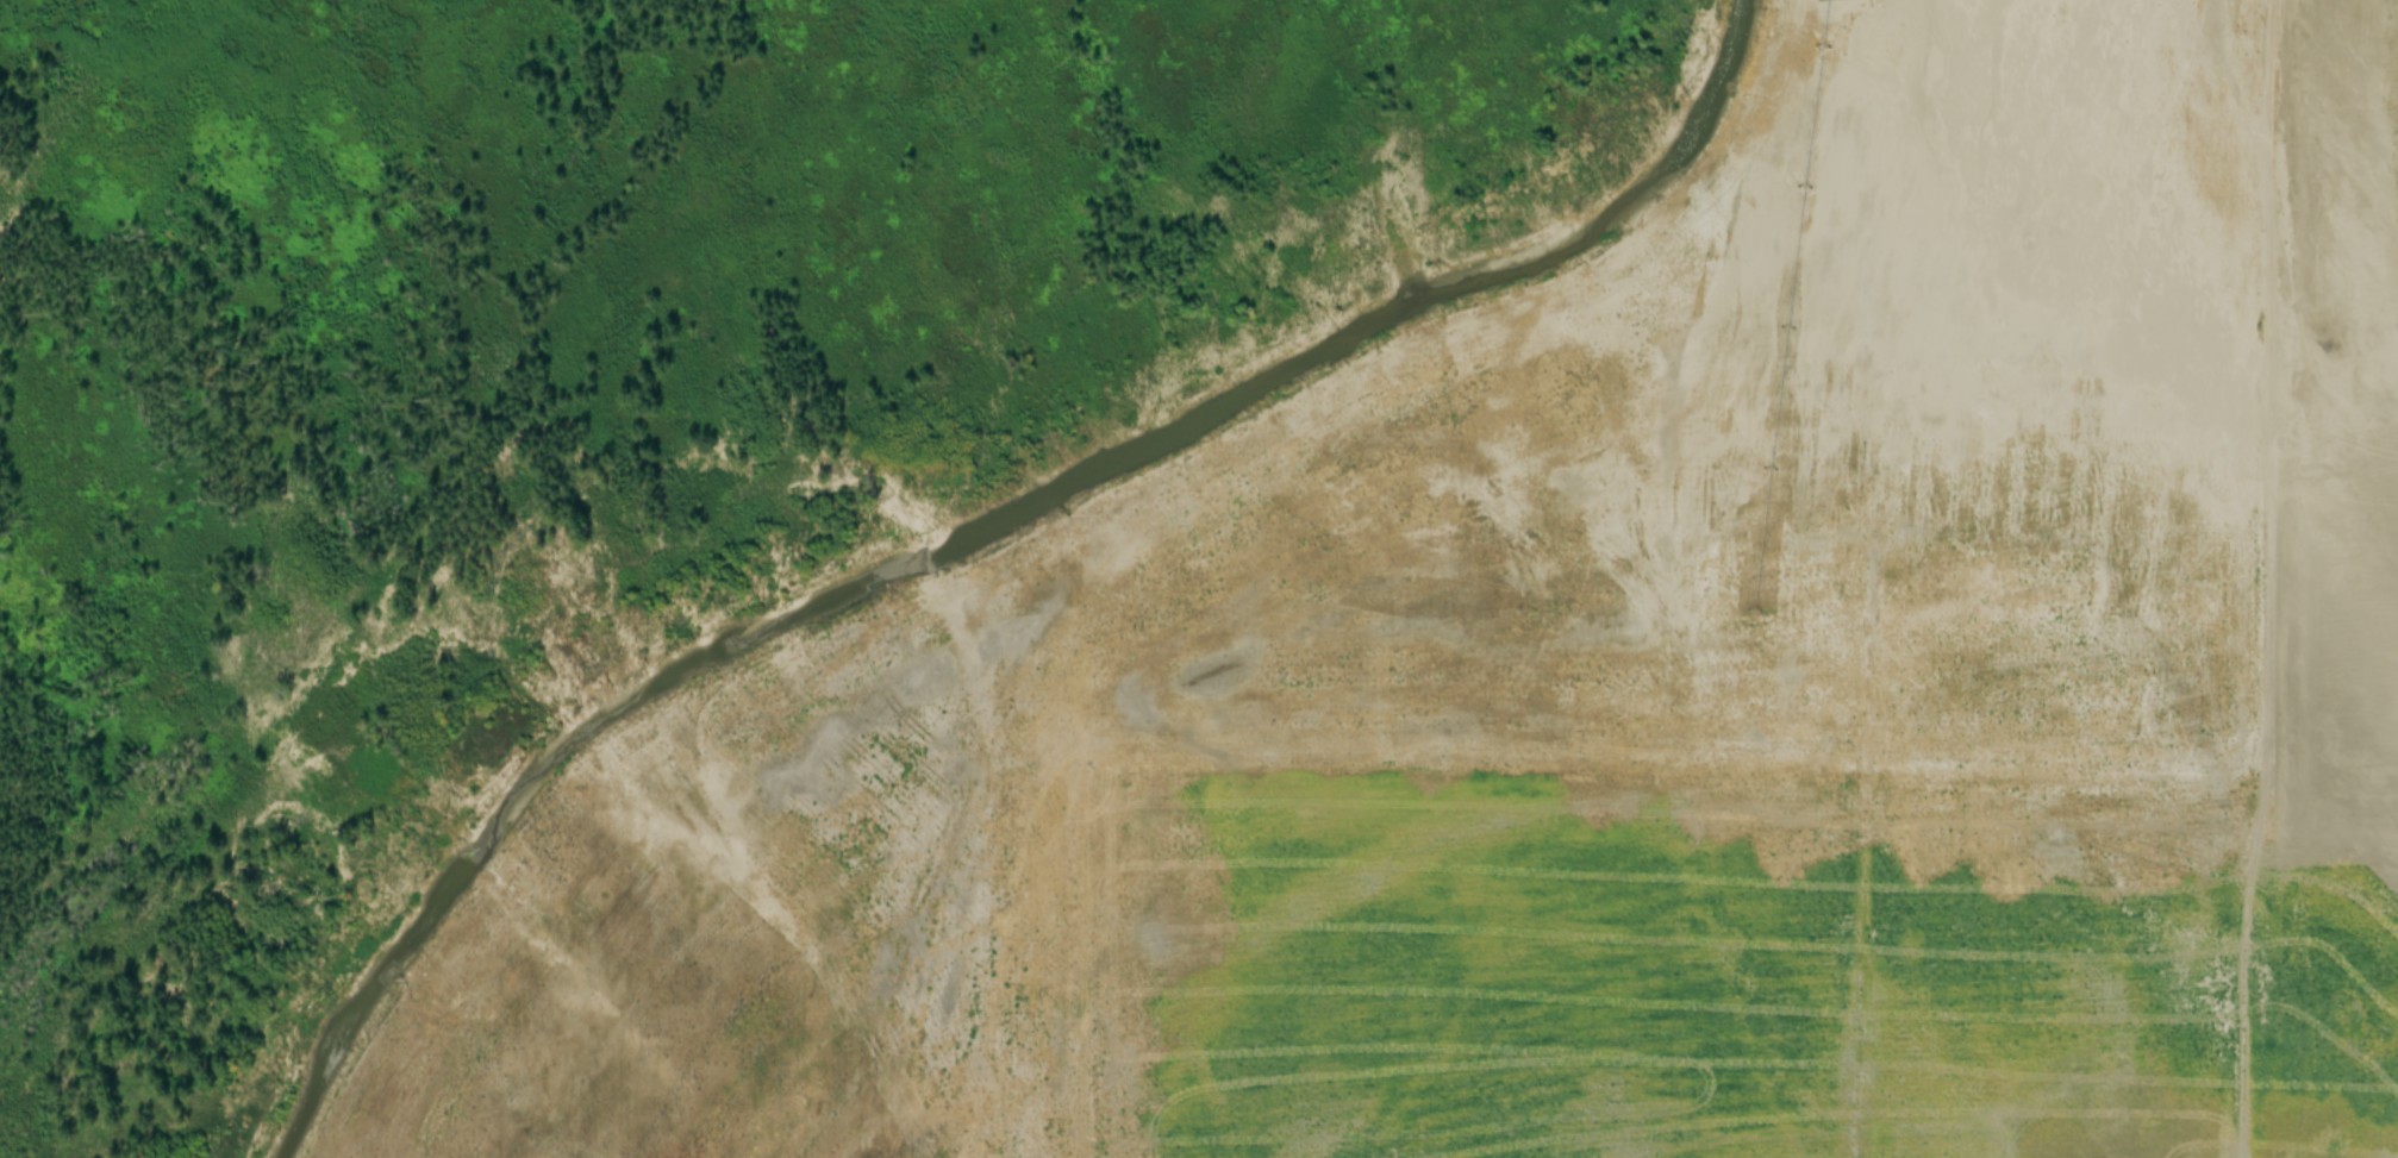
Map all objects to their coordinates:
road: (2269, 450)

